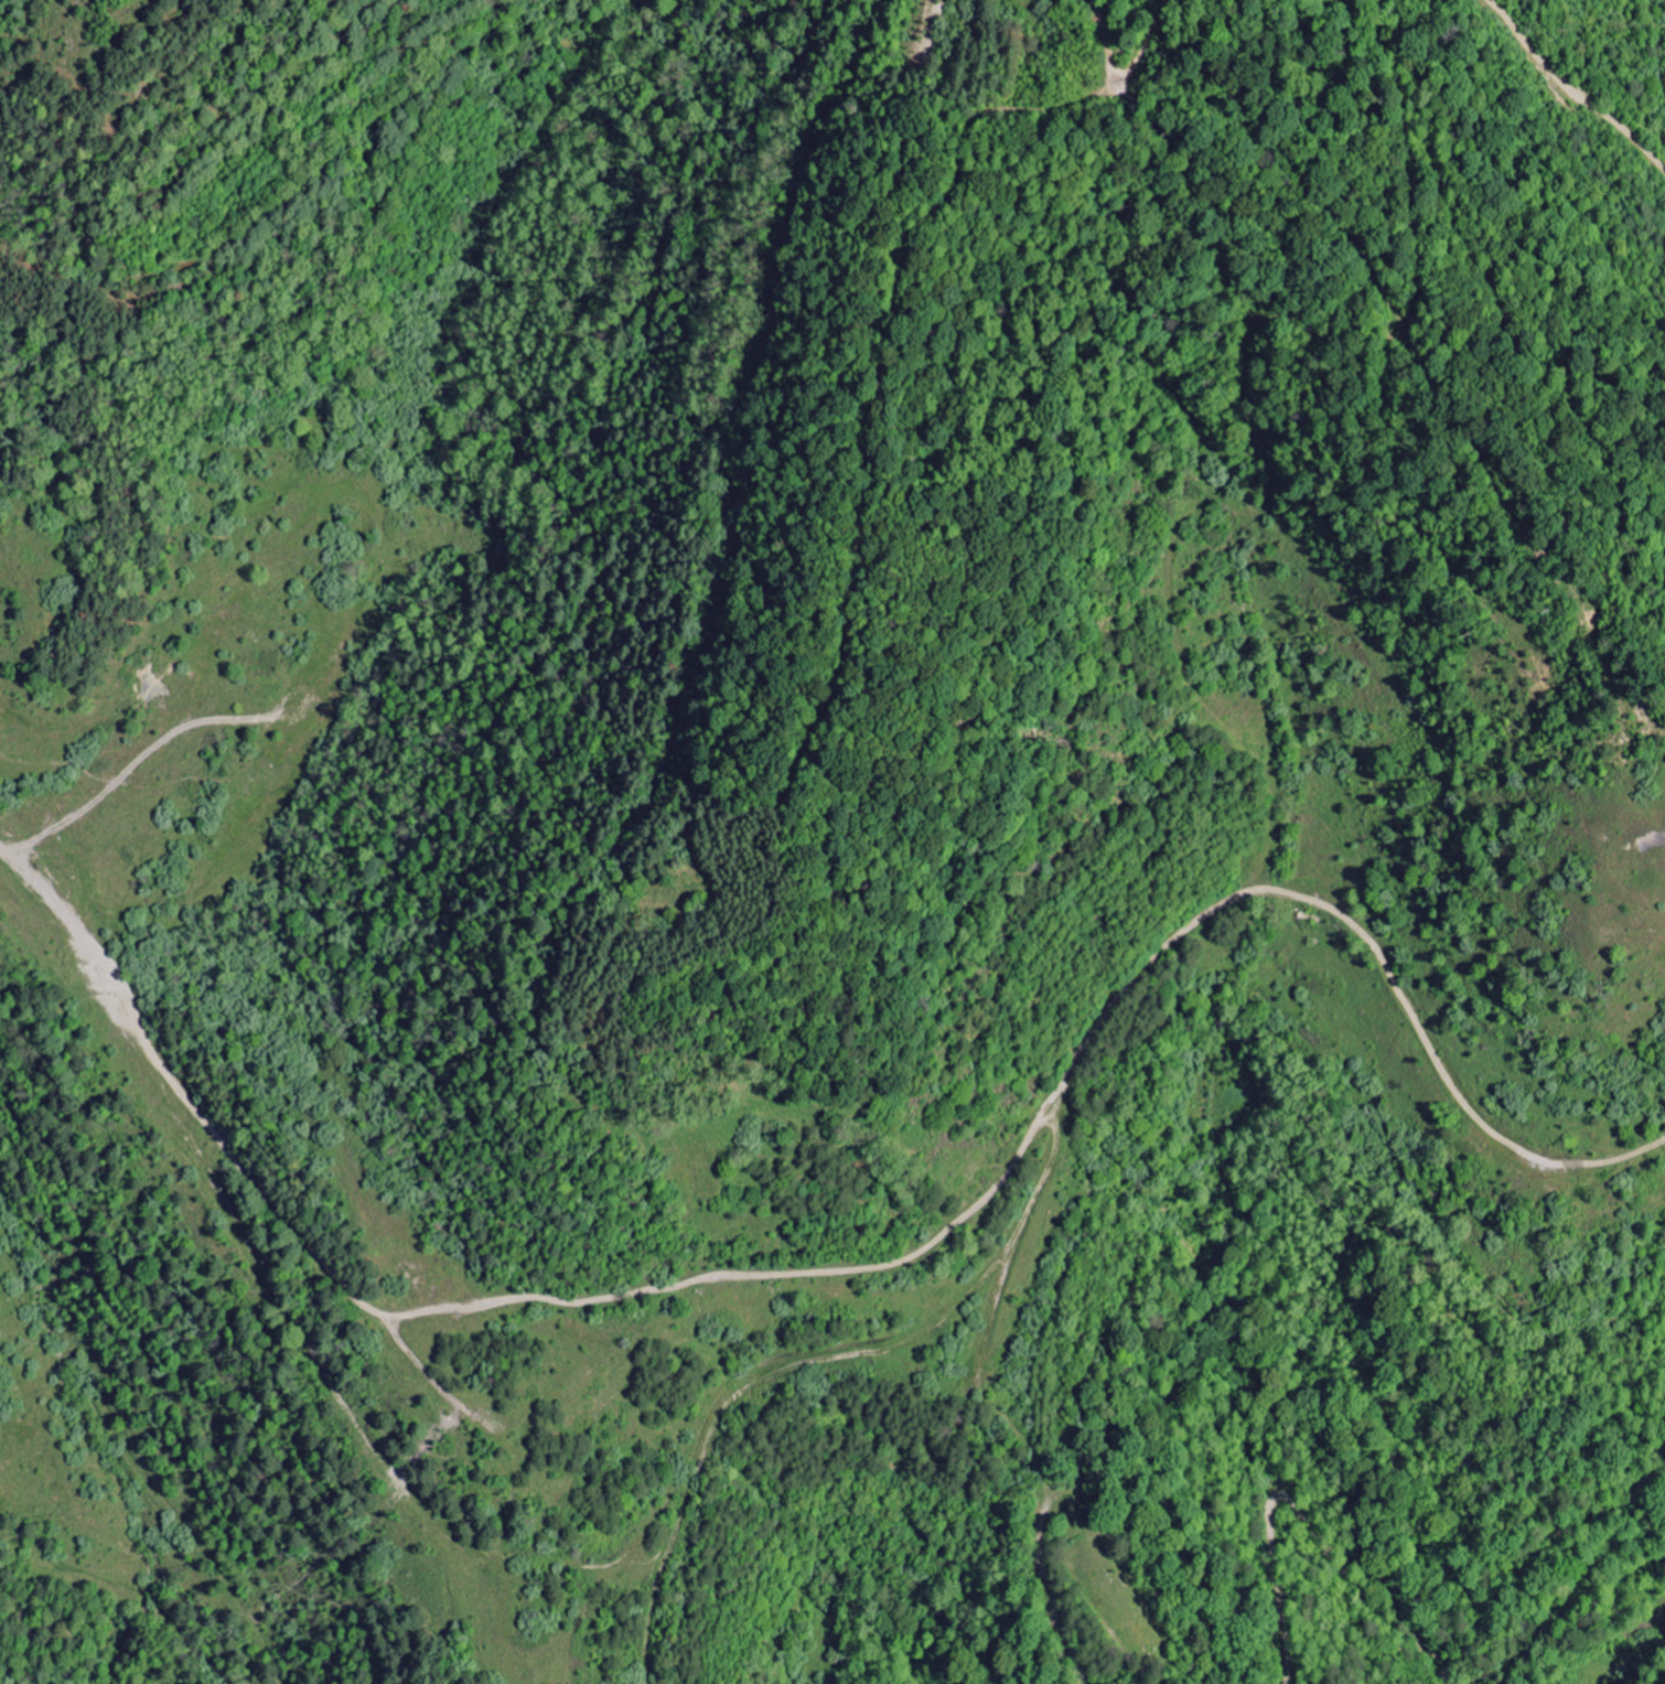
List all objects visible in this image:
road: (1562, 1611)

